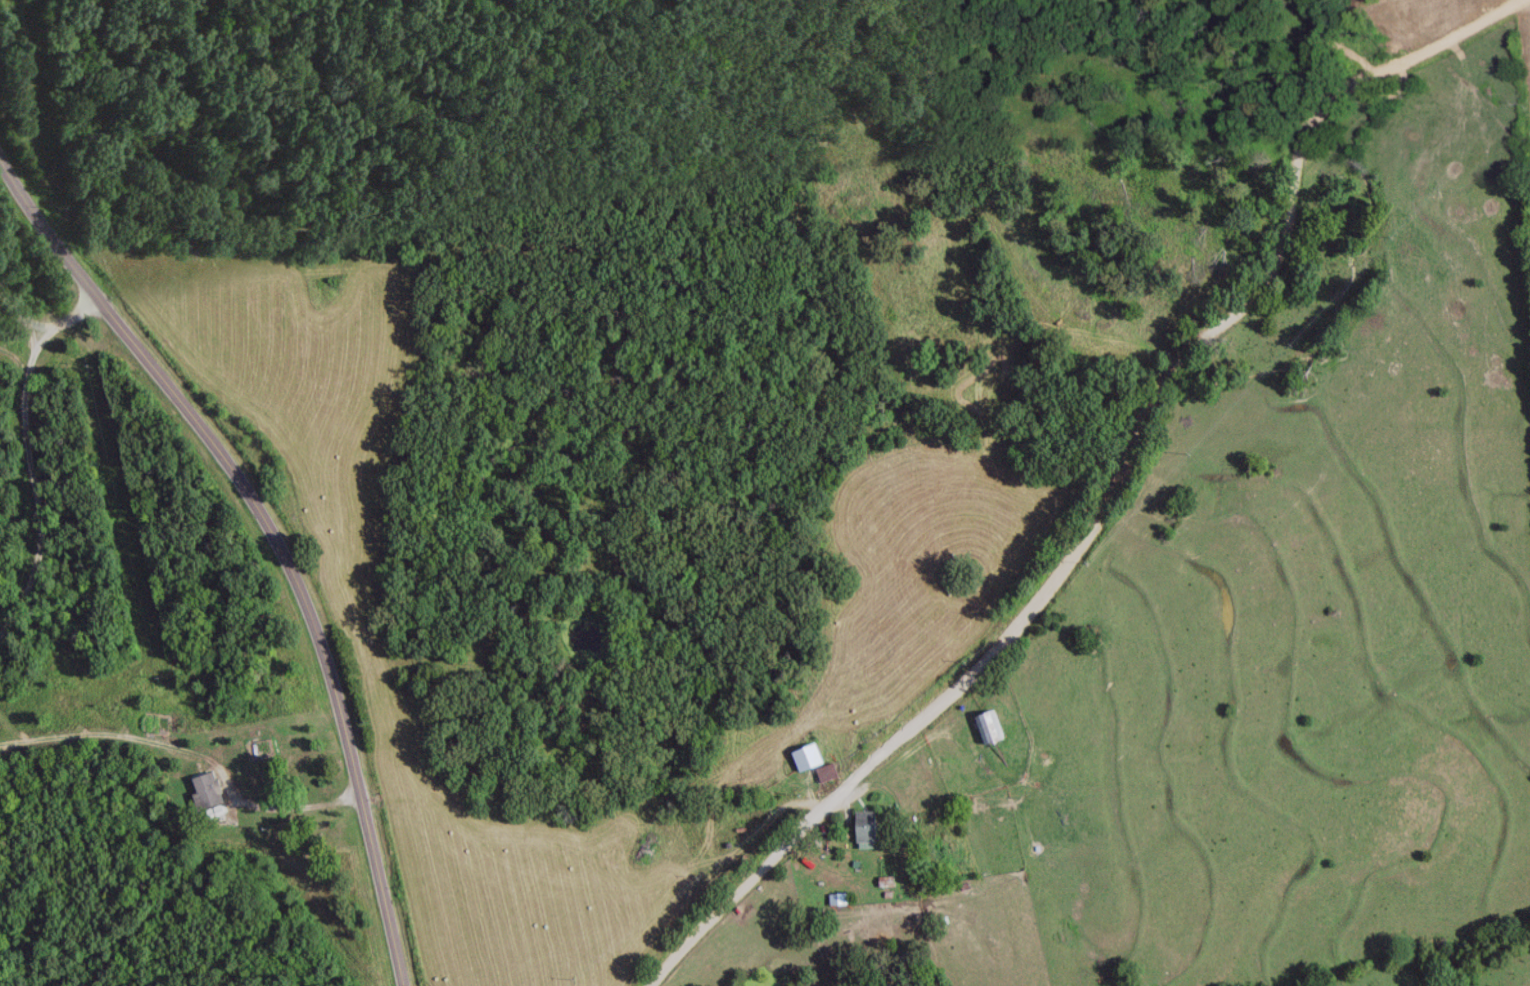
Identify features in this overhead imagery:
road: (62, 335)
road: (1112, 486)
road: (23, 490)
road: (275, 538)
building: (996, 727)
road: (193, 754)
building: (832, 771)
building: (211, 788)
building: (876, 825)

